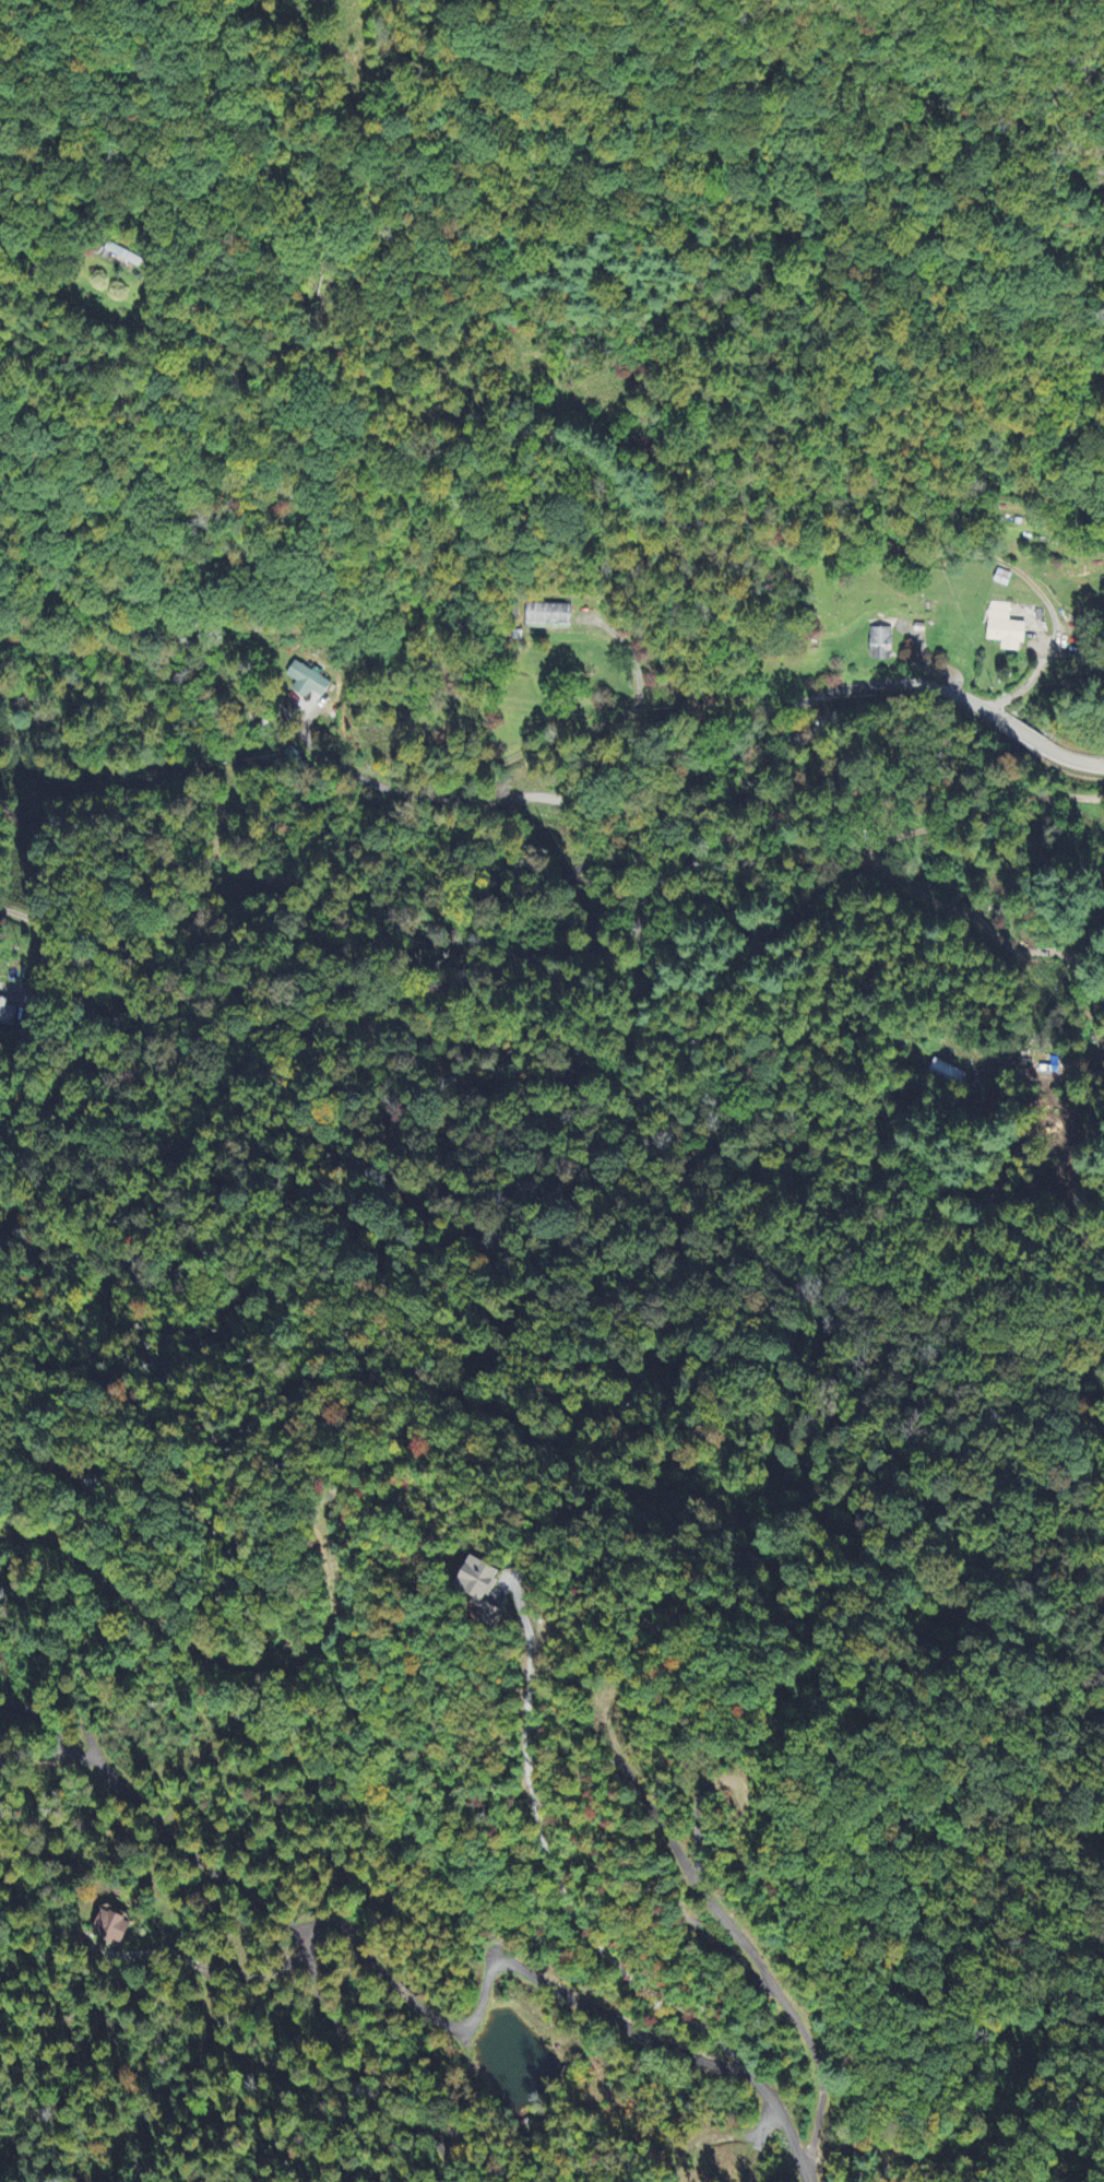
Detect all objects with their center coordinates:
building: (123, 257)
road: (631, 498)
building: (549, 616)
building: (1005, 629)
building: (881, 645)
building: (307, 683)
road: (555, 798)
building: (478, 1589)
road: (277, 1660)
building: (112, 1927)
road: (240, 1971)
road: (419, 2004)
road: (364, 2064)

